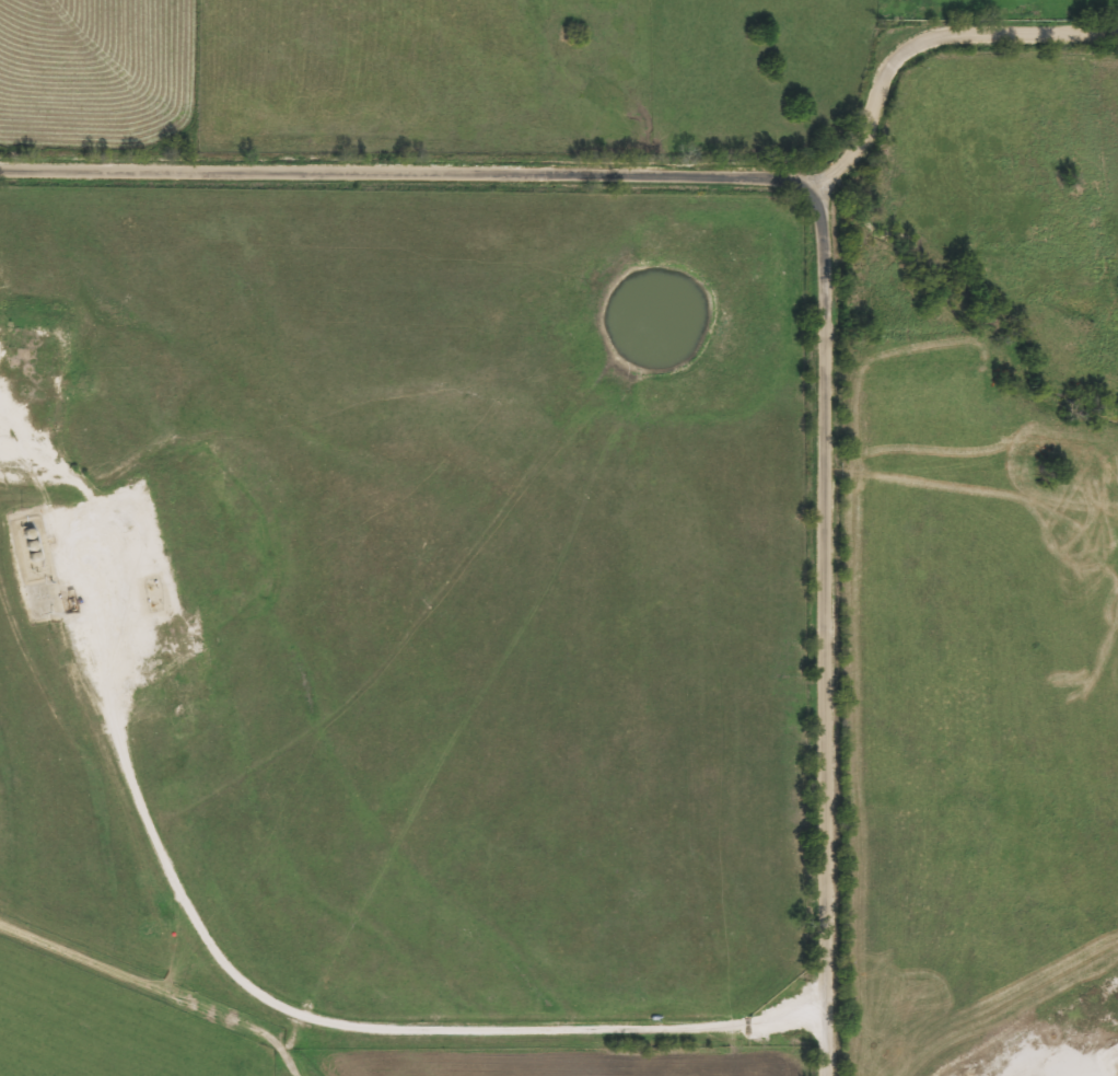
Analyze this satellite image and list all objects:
road: (913, 57)
road: (828, 224)
road: (159, 982)
road: (338, 1026)

